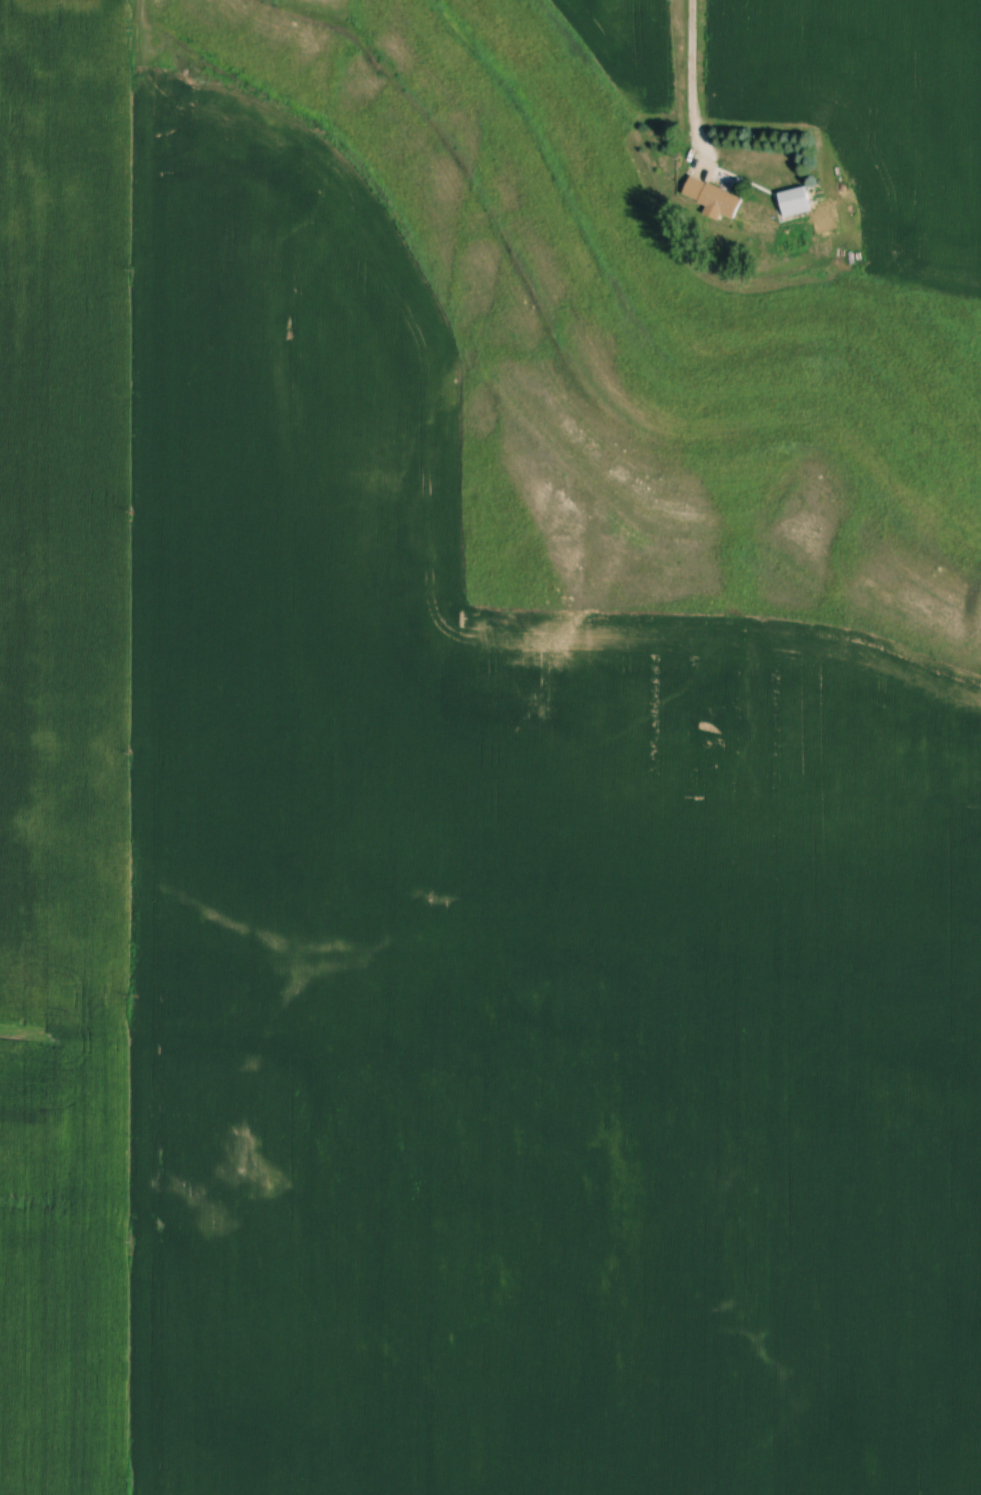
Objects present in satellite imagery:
road: (691, 77)
building: (715, 199)
building: (797, 203)

